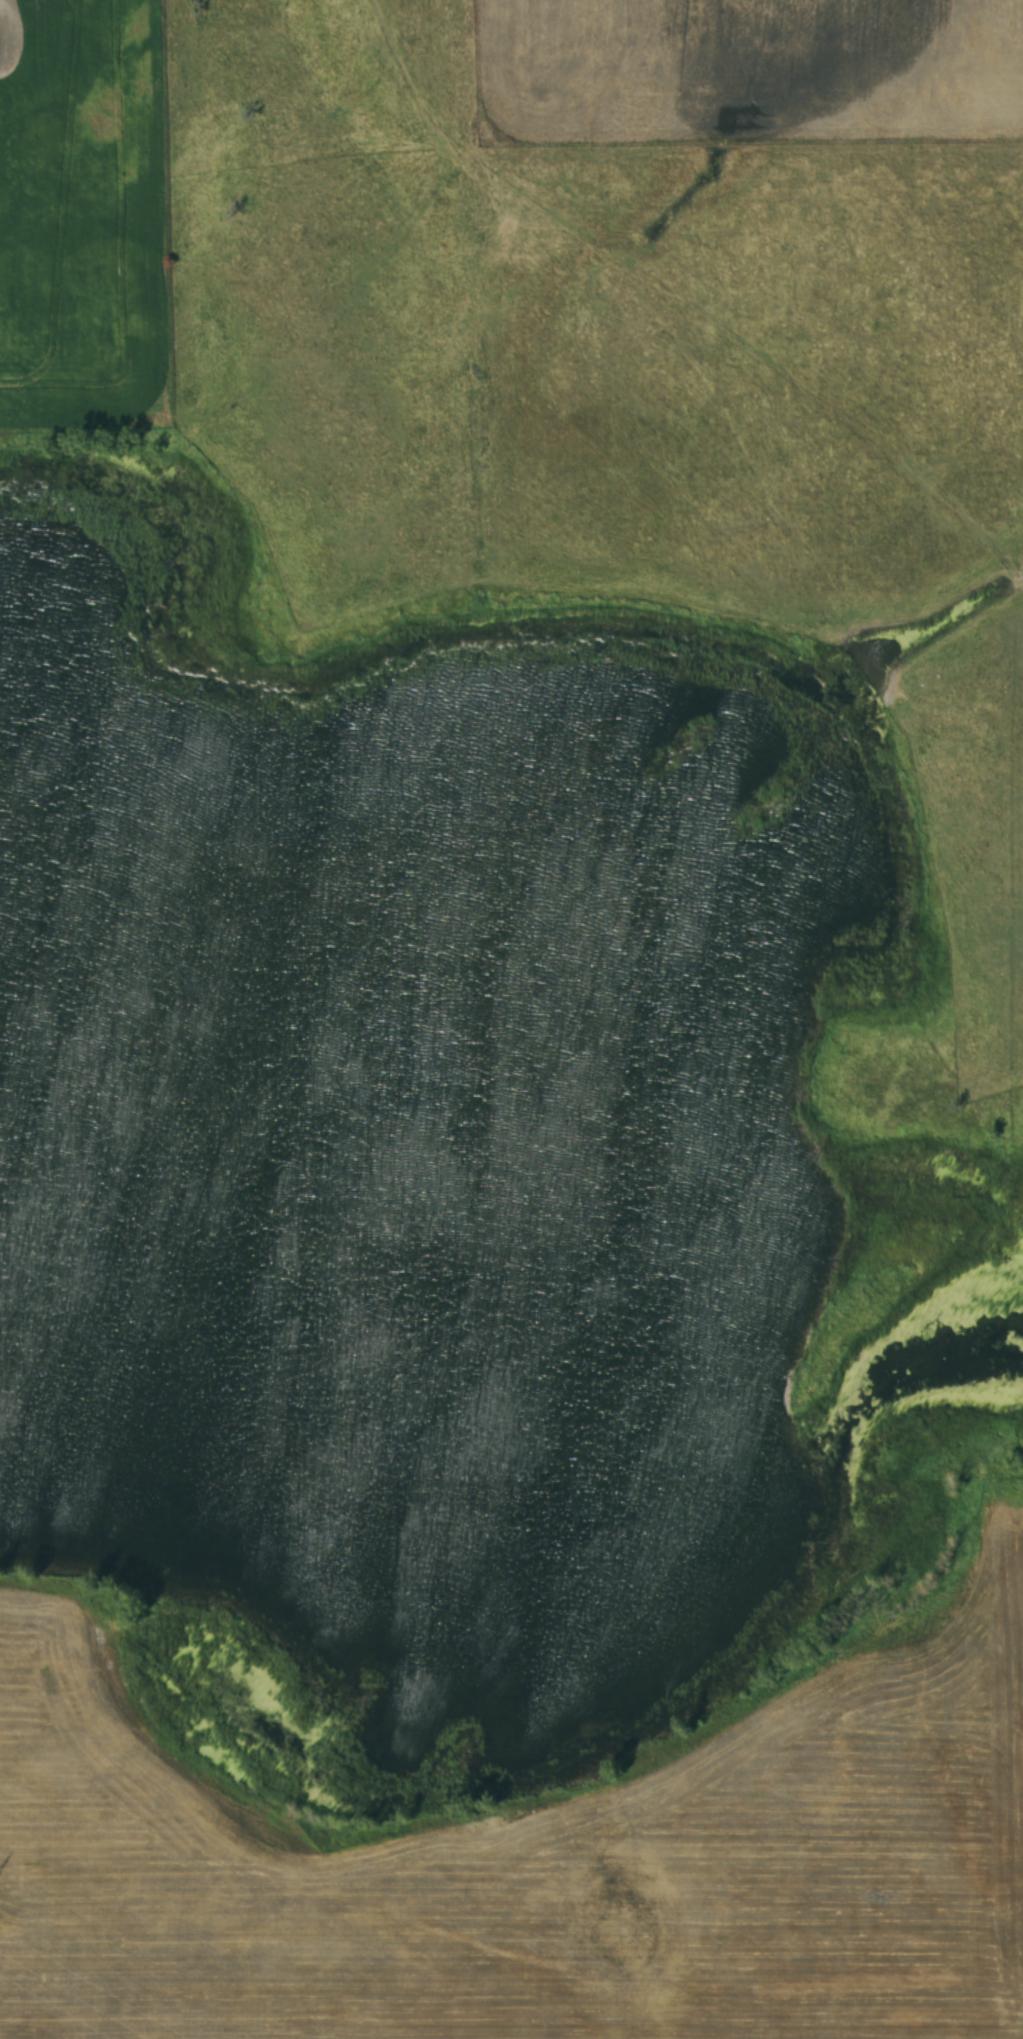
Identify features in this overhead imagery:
building: (932, 1917)

